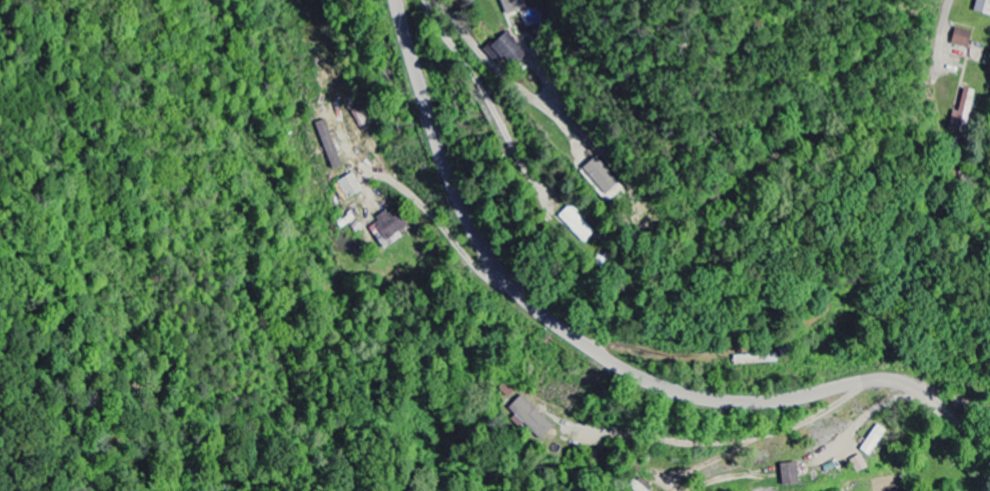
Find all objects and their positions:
building: (493, 0)
building: (510, 6)
building: (982, 7)
road: (942, 34)
building: (960, 38)
building: (506, 52)
building: (975, 52)
road: (503, 74)
building: (966, 102)
building: (326, 145)
building: (599, 176)
building: (348, 187)
building: (390, 224)
building: (577, 224)
road: (443, 234)
road: (545, 312)
road: (934, 401)
building: (530, 418)
building: (873, 441)
road: (723, 442)
building: (858, 465)
building: (788, 475)

